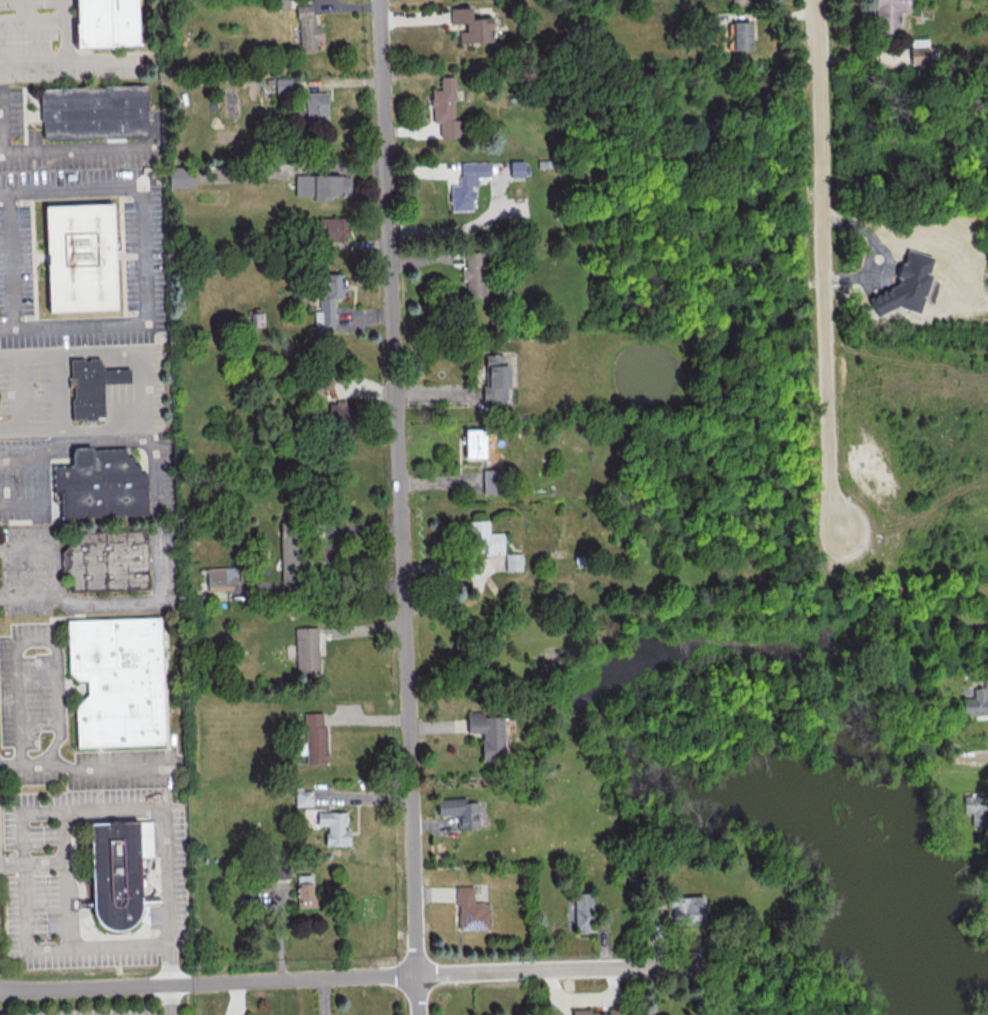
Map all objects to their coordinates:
building: (739, 2)
building: (281, 4)
road: (22, 11)
building: (888, 15)
road: (32, 21)
building: (110, 22)
building: (470, 25)
building: (306, 27)
building: (740, 34)
building: (918, 50)
road: (101, 63)
road: (65, 64)
building: (283, 84)
building: (445, 108)
building: (316, 110)
building: (96, 112)
road: (72, 149)
building: (180, 177)
building: (467, 183)
building: (323, 186)
building: (334, 227)
road: (819, 238)
road: (144, 257)
building: (83, 258)
road: (11, 260)
building: (476, 274)
building: (904, 285)
building: (331, 296)
road: (108, 354)
building: (495, 377)
building: (320, 379)
building: (92, 389)
road: (19, 393)
road: (71, 428)
road: (62, 433)
building: (473, 442)
building: (491, 481)
building: (102, 484)
road: (21, 503)
road: (399, 507)
building: (483, 537)
road: (43, 543)
building: (291, 550)
building: (107, 561)
building: (512, 561)
road: (846, 562)
building: (228, 583)
road: (164, 600)
road: (39, 641)
building: (306, 650)
building: (119, 681)
building: (974, 702)
building: (487, 730)
building: (314, 738)
road: (974, 754)
road: (86, 772)
building: (302, 797)
road: (131, 807)
building: (976, 807)
building: (459, 810)
building: (336, 826)
road: (42, 865)
building: (118, 871)
road: (64, 879)
building: (305, 893)
building: (471, 909)
building: (686, 909)
building: (582, 912)
road: (67, 947)
road: (314, 978)
road: (171, 999)
building: (599, 1012)

